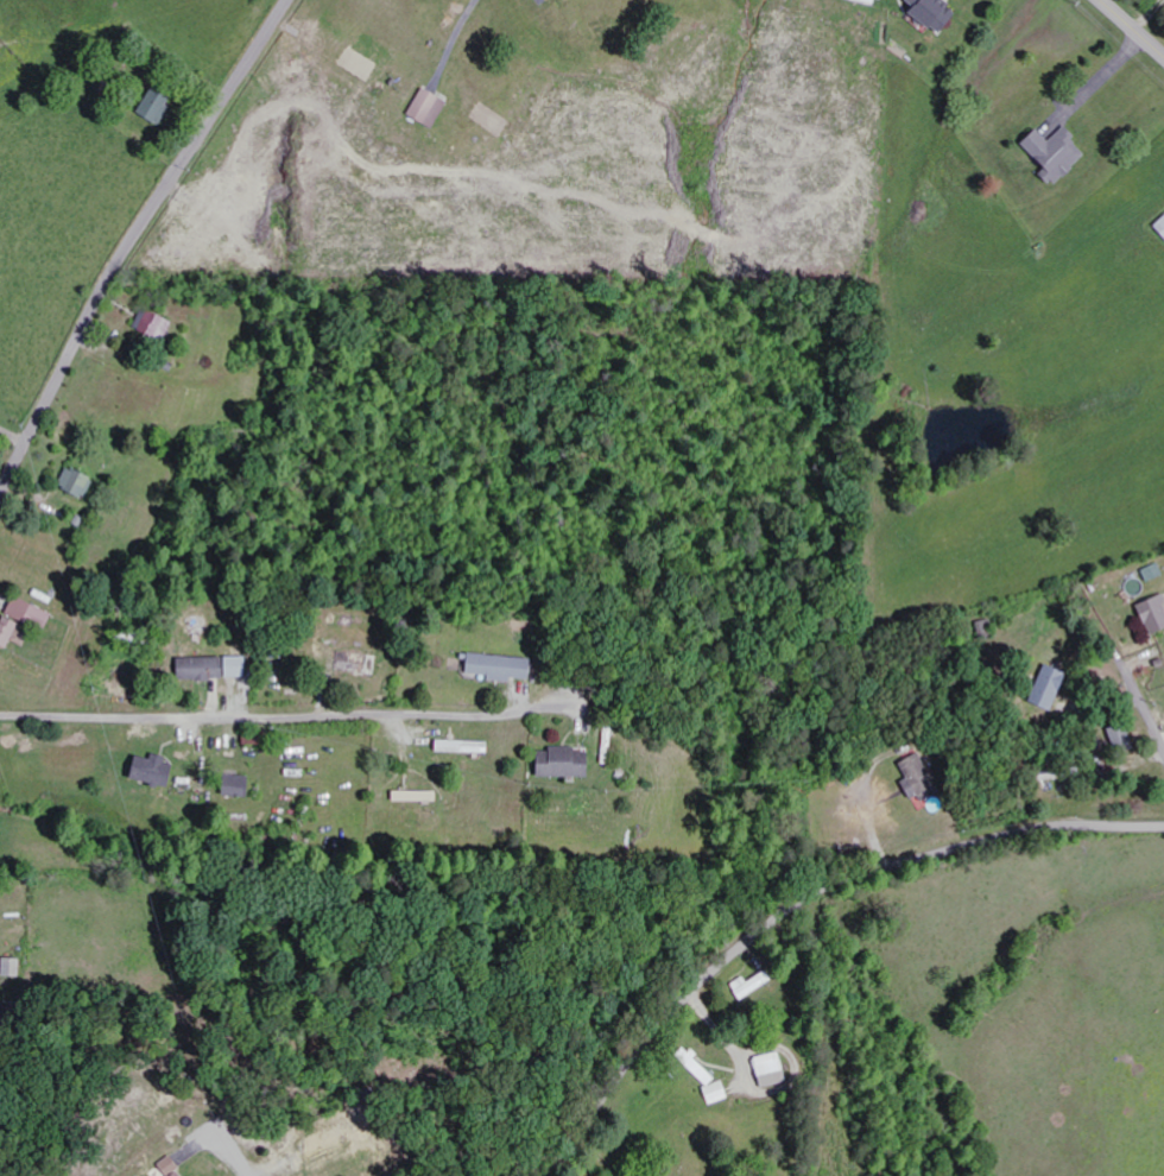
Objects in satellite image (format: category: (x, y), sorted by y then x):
building: (866, 1)
building: (929, 13)
road: (1132, 27)
building: (151, 107)
building: (425, 108)
building: (1051, 152)
road: (132, 242)
building: (158, 323)
building: (81, 480)
building: (1151, 571)
building: (1151, 614)
building: (24, 618)
building: (359, 663)
building: (505, 666)
building: (217, 668)
building: (1044, 688)
road: (1138, 696)
road: (281, 717)
building: (468, 746)
building: (569, 761)
building: (159, 770)
building: (915, 778)
building: (241, 786)
building: (420, 795)
road: (801, 903)
building: (755, 985)
building: (774, 1069)
building: (706, 1075)
road: (226, 1143)
building: (175, 1168)

